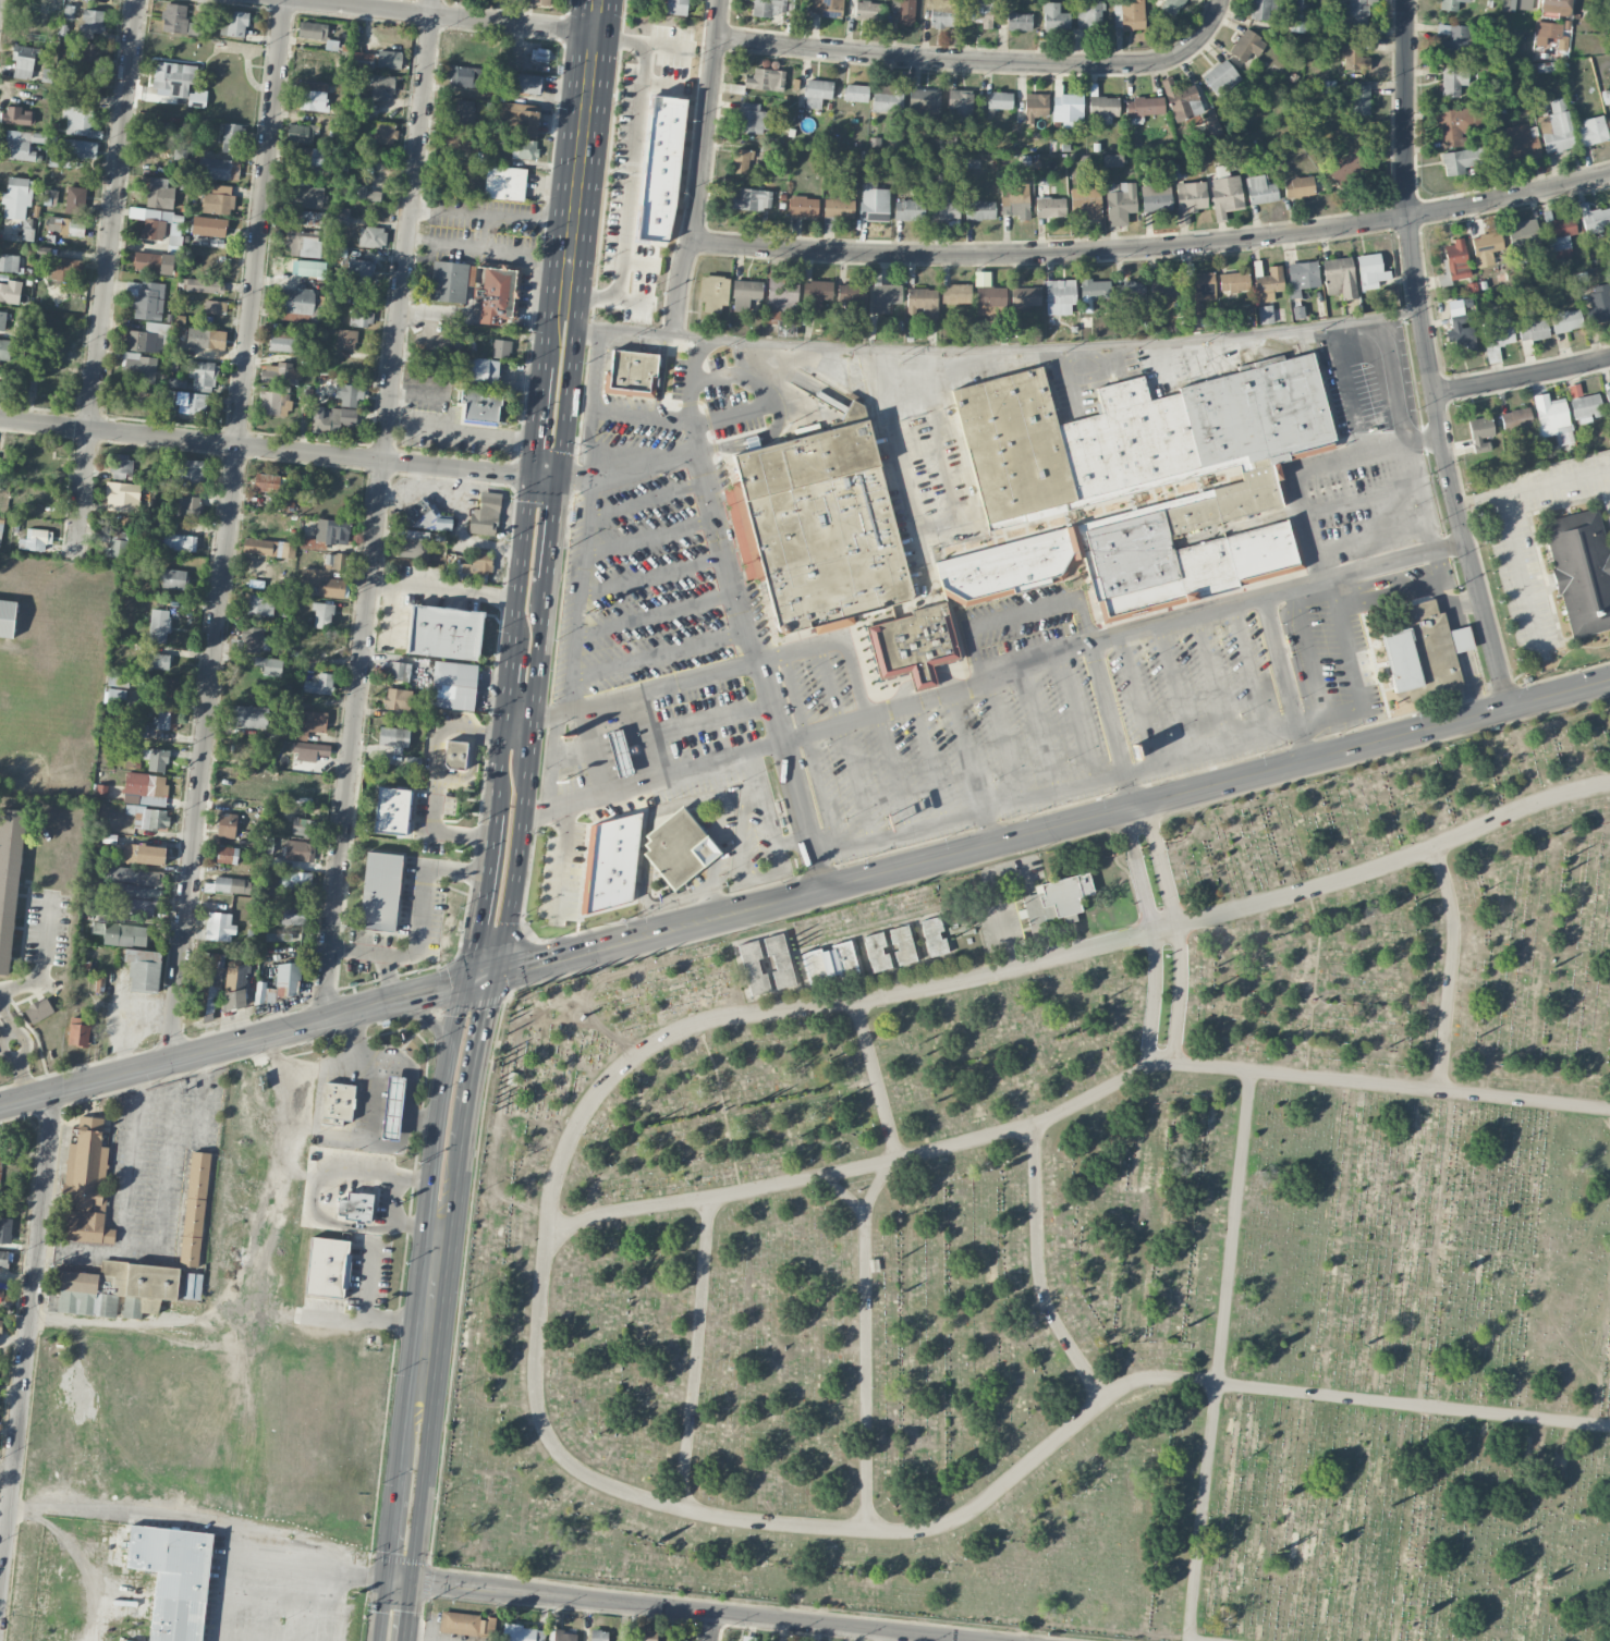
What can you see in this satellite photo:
building: (537, 1)
building: (1450, 4)
building: (1516, 4)
building: (676, 7)
building: (772, 7)
building: (979, 7)
building: (1172, 7)
building: (1554, 7)
building: (1264, 8)
building: (867, 10)
building: (904, 11)
building: (940, 13)
building: (1352, 13)
building: (1088, 14)
building: (1129, 14)
road: (458, 15)
building: (1298, 15)
building: (174, 17)
building: (1054, 17)
building: (1019, 21)
building: (90, 23)
building: (233, 23)
building: (194, 29)
building: (312, 30)
building: (1552, 37)
building: (1453, 38)
building: (1247, 45)
building: (539, 54)
building: (86, 56)
building: (1354, 57)
building: (389, 59)
building: (24, 60)
building: (364, 60)
road: (984, 62)
building: (464, 76)
building: (1221, 77)
building: (173, 78)
building: (765, 79)
building: (1452, 81)
building: (526, 83)
building: (379, 86)
building: (85, 87)
building: (816, 93)
building: (855, 93)
building: (313, 96)
building: (887, 98)
building: (1181, 99)
building: (1356, 99)
building: (999, 101)
building: (924, 103)
building: (961, 103)
building: (1035, 106)
building: (1066, 107)
building: (1144, 107)
building: (1103, 108)
building: (461, 113)
building: (16, 115)
building: (753, 118)
building: (78, 120)
building: (517, 120)
building: (1609, 120)
building: (1556, 126)
building: (1591, 131)
building: (385, 132)
building: (162, 133)
building: (300, 133)
building: (232, 135)
building: (1459, 139)
building: (455, 142)
building: (23, 144)
building: (1518, 144)
building: (80, 148)
building: (524, 149)
building: (308, 159)
building: (1112, 160)
road: (580, 161)
building: (742, 161)
road: (632, 168)
road: (700, 168)
building: (215, 169)
building: (660, 169)
building: (1350, 169)
building: (504, 183)
building: (1298, 187)
building: (1260, 189)
building: (362, 192)
building: (159, 193)
building: (306, 194)
building: (16, 197)
building: (1155, 197)
building: (75, 199)
building: (752, 199)
building: (1190, 199)
building: (218, 200)
building: (1014, 200)
building: (1085, 203)
building: (1120, 203)
building: (803, 206)
building: (838, 206)
building: (942, 207)
building: (1049, 208)
building: (908, 210)
building: (979, 210)
road: (491, 213)
building: (341, 216)
building: (309, 217)
building: (1594, 219)
building: (156, 222)
building: (66, 225)
building: (208, 225)
building: (26, 229)
building: (1523, 235)
building: (371, 236)
building: (303, 243)
building: (1485, 244)
road: (488, 245)
road: (1154, 248)
building: (1455, 259)
building: (9, 262)
building: (153, 262)
road: (106, 268)
building: (308, 268)
building: (65, 270)
building: (359, 270)
building: (1369, 270)
road: (1415, 271)
building: (1301, 277)
building: (1340, 277)
building: (449, 281)
building: (1233, 281)
building: (1268, 284)
building: (203, 285)
building: (1164, 287)
building: (1095, 290)
building: (10, 291)
building: (1130, 291)
building: (713, 292)
building: (782, 292)
building: (816, 292)
building: (955, 293)
building: (745, 294)
building: (852, 294)
building: (883, 294)
building: (496, 296)
building: (1059, 296)
building: (1025, 297)
building: (146, 299)
building: (300, 302)
building: (922, 302)
building: (990, 303)
building: (1599, 304)
building: (215, 306)
road: (1405, 311)
road: (437, 313)
building: (1265, 315)
building: (770, 316)
building: (361, 317)
building: (2, 320)
building: (1566, 320)
road: (582, 327)
building: (1532, 329)
building: (1498, 330)
road: (637, 332)
building: (1461, 332)
building: (204, 338)
building: (345, 339)
building: (284, 340)
building: (145, 342)
road: (1033, 346)
building: (501, 348)
building: (5, 350)
road: (1160, 359)
building: (139, 367)
building: (483, 372)
building: (280, 373)
building: (631, 373)
road: (1522, 375)
road: (1086, 376)
building: (176, 383)
road: (1352, 388)
building: (3, 389)
road: (416, 390)
building: (349, 393)
building: (1608, 399)
building: (191, 402)
building: (275, 403)
road: (594, 403)
building: (481, 407)
building: (1586, 407)
road: (642, 414)
building: (1552, 418)
building: (331, 419)
building: (1515, 419)
road: (468, 430)
road: (1411, 431)
building: (1480, 433)
road: (1427, 440)
road: (273, 448)
road: (643, 465)
building: (122, 466)
building: (188, 469)
road: (1301, 472)
traffic signals: (547, 478)
road: (568, 478)
building: (1135, 481)
building: (266, 482)
road: (1557, 482)
building: (121, 497)
road: (645, 498)
road: (707, 499)
road: (1364, 499)
building: (188, 505)
road: (1480, 505)
road: (377, 507)
building: (485, 514)
building: (425, 517)
road: (542, 517)
building: (1, 525)
building: (819, 526)
road: (930, 527)
road: (227, 530)
building: (332, 531)
road: (468, 536)
road: (648, 536)
road: (1374, 537)
building: (35, 540)
building: (179, 542)
building: (414, 543)
road: (1449, 544)
building: (117, 546)
building: (269, 548)
building: (473, 565)
building: (1581, 570)
road: (1346, 572)
road: (651, 574)
road: (1522, 574)
building: (327, 576)
building: (173, 578)
road: (1373, 584)
road: (1425, 587)
road: (451, 588)
road: (580, 595)
road: (1440, 597)
road: (1374, 599)
building: (259, 605)
road: (1020, 613)
road: (655, 614)
building: (321, 615)
building: (7, 617)
road: (1488, 623)
building: (158, 625)
building: (444, 632)
building: (251, 640)
road: (1345, 642)
building: (320, 648)
road: (800, 650)
building: (1424, 651)
road: (658, 654)
building: (159, 661)
road: (1278, 662)
road: (1020, 664)
building: (269, 665)
road: (1248, 670)
building: (404, 672)
building: (118, 679)
road: (1211, 681)
building: (318, 684)
building: (453, 685)
building: (169, 687)
road: (1173, 690)
road: (643, 693)
road: (1560, 693)
building: (115, 694)
building: (398, 699)
road: (1137, 700)
building: (248, 717)
road: (1077, 717)
road: (1329, 718)
building: (164, 720)
road: (521, 721)
road: (707, 722)
road: (1112, 723)
building: (303, 724)
road: (441, 727)
road: (1039, 727)
building: (393, 736)
road: (642, 738)
road: (1000, 739)
road: (1300, 745)
road: (964, 749)
building: (309, 750)
building: (617, 751)
gas station: (617, 751)
building: (243, 752)
road: (588, 754)
building: (454, 755)
building: (156, 759)
road: (930, 759)
road: (690, 769)
road: (892, 770)
road: (499, 773)
road: (523, 773)
road: (856, 781)
building: (145, 788)
road: (1053, 792)
road: (819, 793)
road: (1164, 796)
road: (796, 798)
road: (558, 806)
building: (391, 810)
road: (767, 813)
building: (148, 817)
building: (227, 825)
building: (303, 826)
road: (986, 826)
road: (451, 833)
building: (678, 847)
building: (298, 850)
building: (144, 854)
building: (227, 855)
road: (562, 857)
road: (711, 860)
building: (610, 862)
road: (816, 870)
building: (131, 875)
building: (9, 878)
building: (296, 880)
building: (229, 885)
building: (138, 891)
building: (380, 891)
road: (510, 897)
building: (1056, 898)
road: (481, 902)
road: (764, 903)
building: (135, 906)
building: (293, 915)
road: (419, 921)
building: (219, 927)
road: (1176, 929)
building: (121, 933)
road: (1151, 933)
building: (282, 936)
building: (934, 936)
building: (902, 944)
road: (600, 946)
building: (876, 952)
road: (44, 957)
building: (779, 960)
building: (829, 963)
road: (1449, 965)
building: (752, 968)
building: (143, 969)
traffic signals: (493, 975)
building: (288, 977)
road: (388, 977)
road: (479, 977)
traffic signals: (466, 980)
building: (208, 982)
building: (233, 1000)
building: (38, 1009)
building: (77, 1031)
road: (233, 1043)
road: (450, 1049)
road: (474, 1053)
road: (17, 1055)
road: (407, 1067)
road: (279, 1069)
road: (200, 1070)
road: (875, 1078)
road: (138, 1085)
building: (338, 1102)
road: (1074, 1103)
building: (392, 1106)
road: (317, 1112)
road: (422, 1116)
road: (129, 1168)
road: (167, 1175)
road: (428, 1175)
road: (458, 1184)
road: (876, 1184)
building: (86, 1185)
road: (841, 1191)
road: (394, 1204)
building: (359, 1207)
building: (194, 1208)
building: (5, 1229)
park: (1086, 1233)
road: (93, 1250)
building: (3, 1258)
building: (328, 1266)
road: (1036, 1271)
building: (192, 1286)
building: (114, 1288)
building: (2, 1289)
road: (540, 1291)
road: (224, 1300)
road: (365, 1308)
building: (0, 1324)
road: (27, 1340)
road: (695, 1352)
road: (1218, 1355)
road: (864, 1370)
road: (417, 1405)
road: (212, 1419)
road: (7, 1471)
road: (144, 1508)
road: (276, 1565)
building: (171, 1577)
traffic signals: (401, 1581)
road: (327, 1606)
road: (695, 1608)
road: (397, 1611)
building: (465, 1624)
road: (711, 1626)
building: (522, 1633)
building: (647, 1633)
building: (598, 1634)
building: (561, 1636)
road: (1208, 1639)
building: (126, 1640)
building: (673, 1640)

